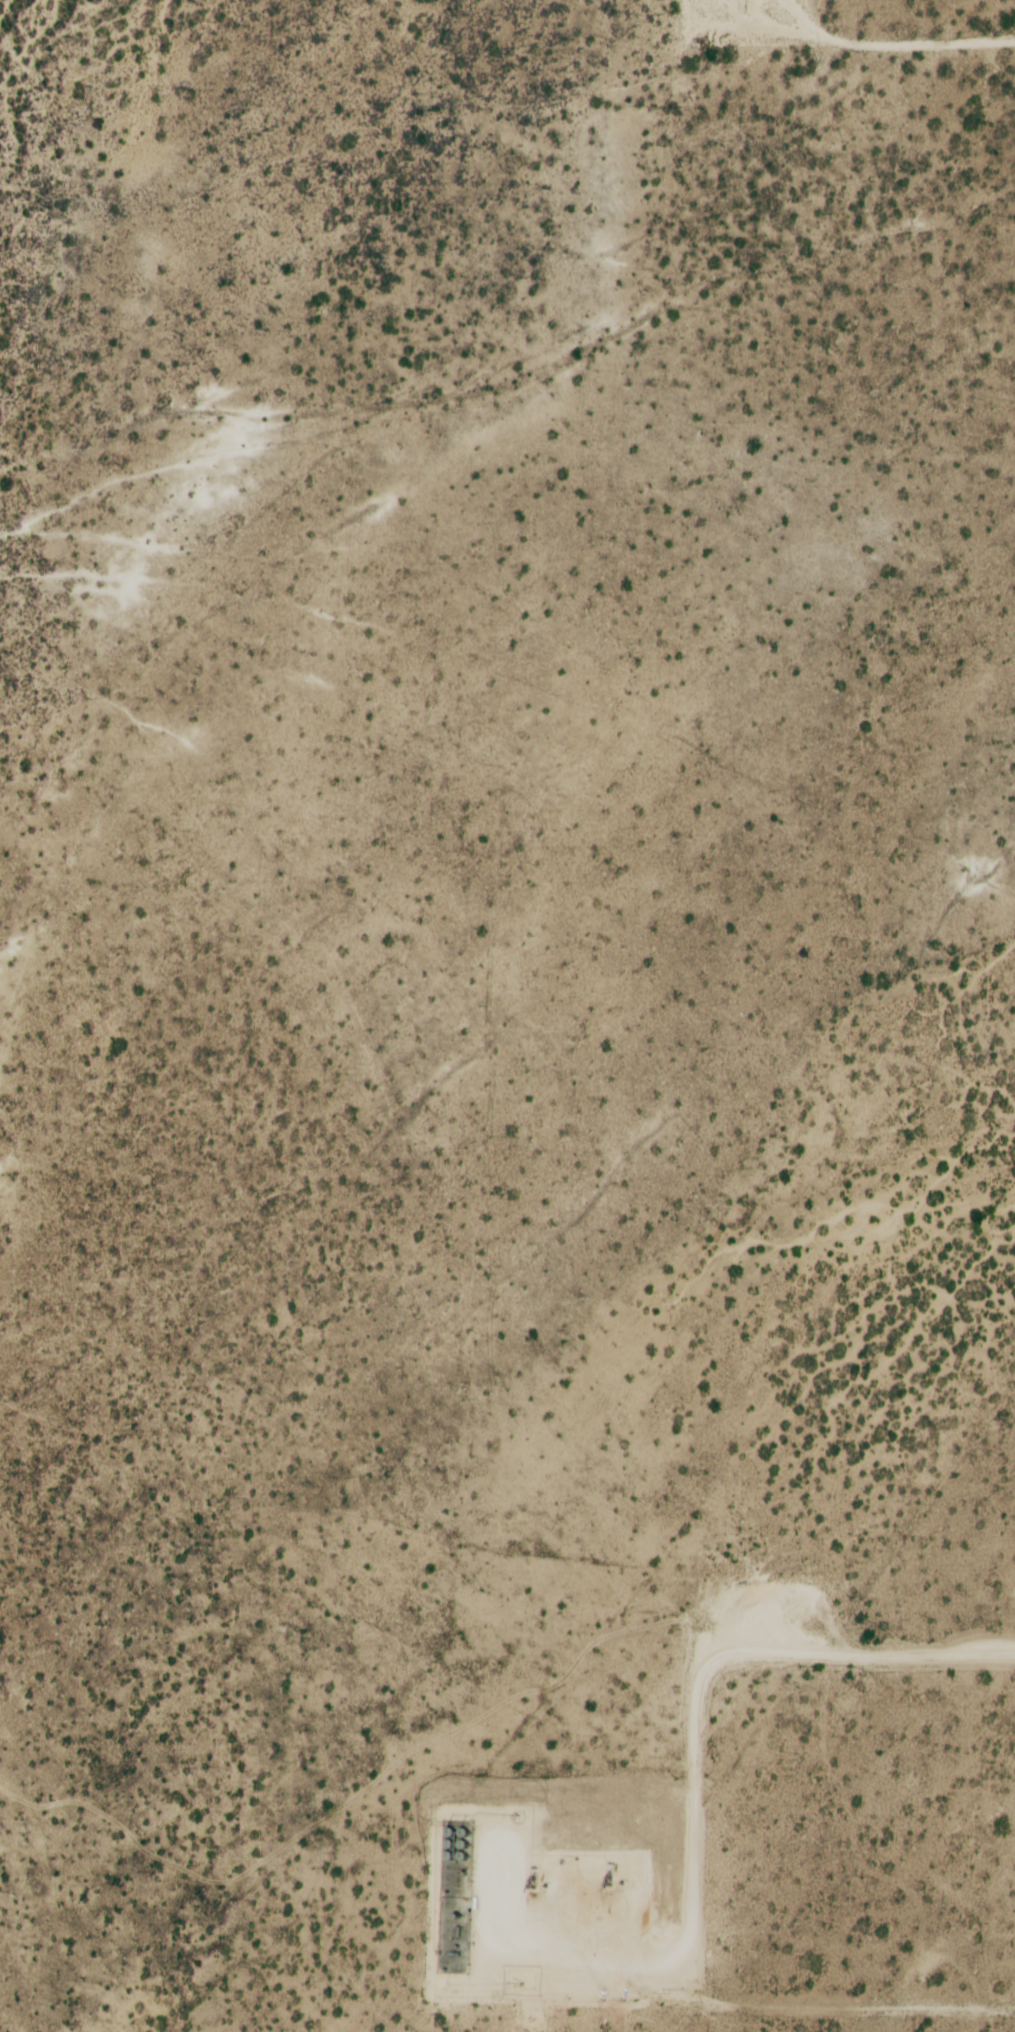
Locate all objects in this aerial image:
road: (1009, 1682)

